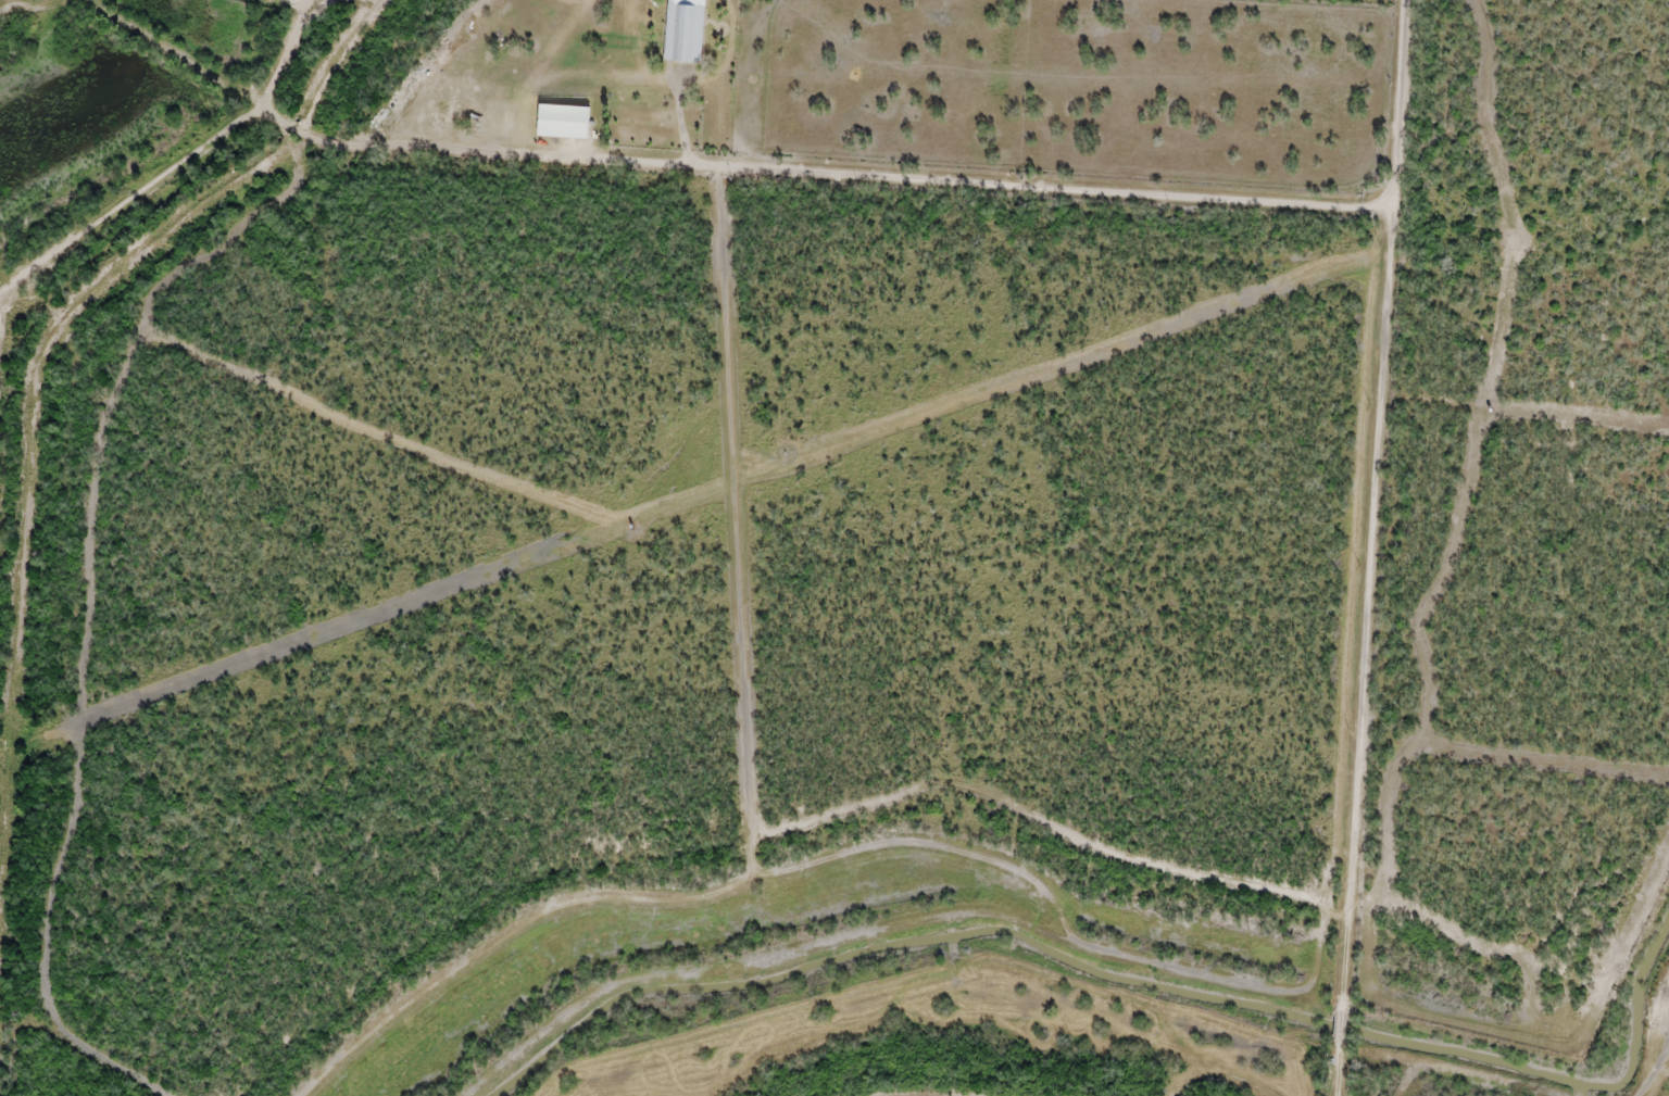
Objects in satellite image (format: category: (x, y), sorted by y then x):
building: (682, 30)
building: (563, 121)
road: (787, 191)
road: (1385, 547)
river: (1635, 1016)

